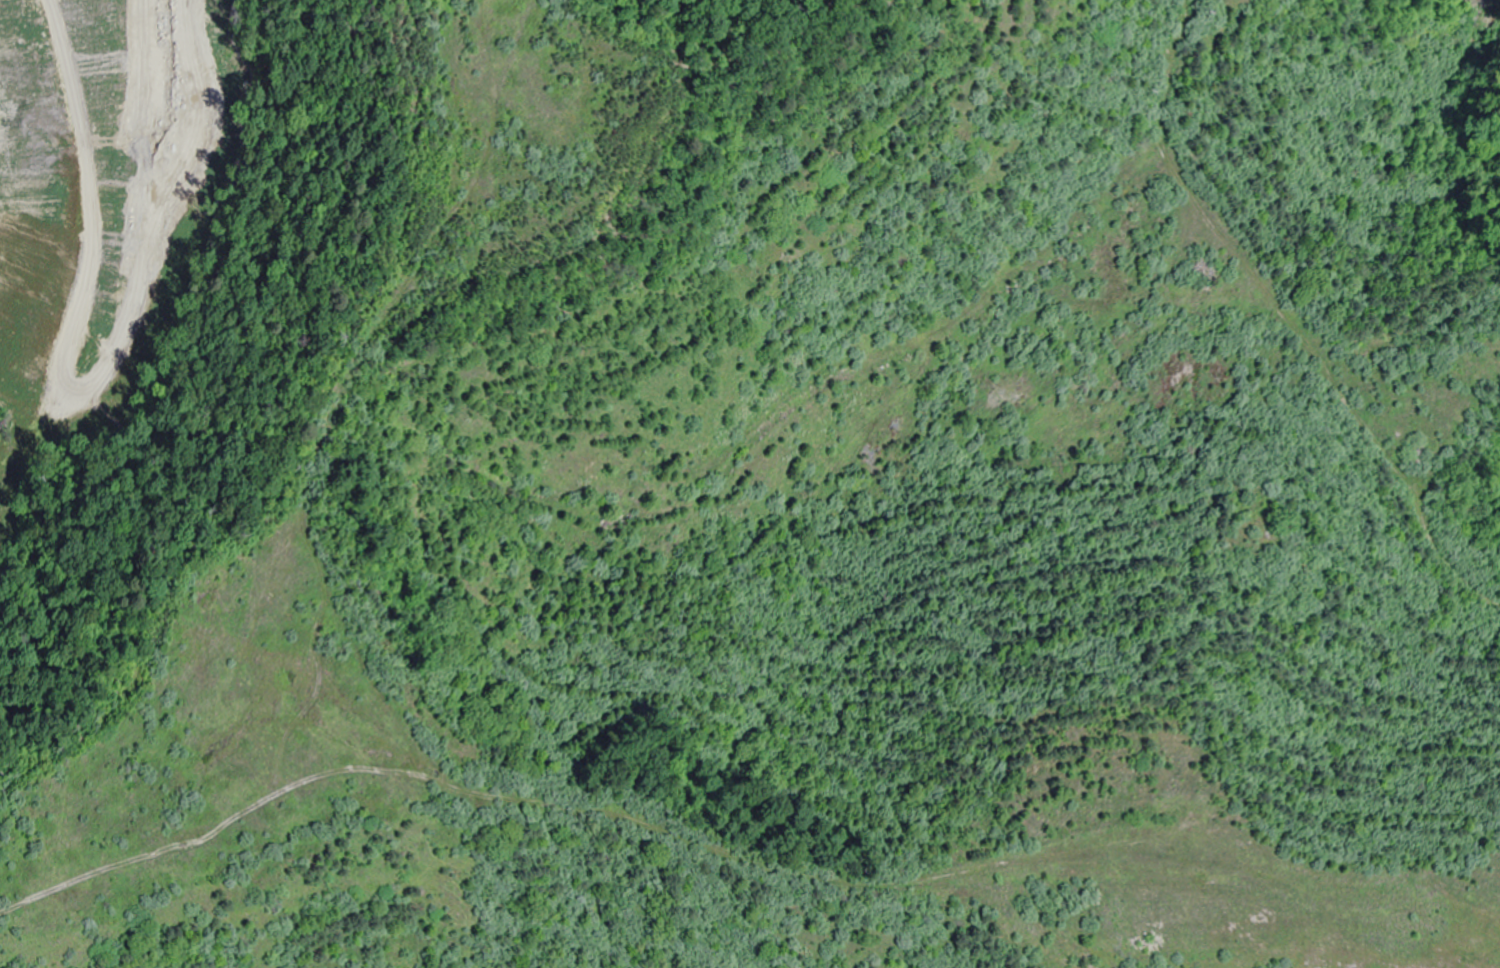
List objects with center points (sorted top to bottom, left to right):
quarry: (52, 120)

